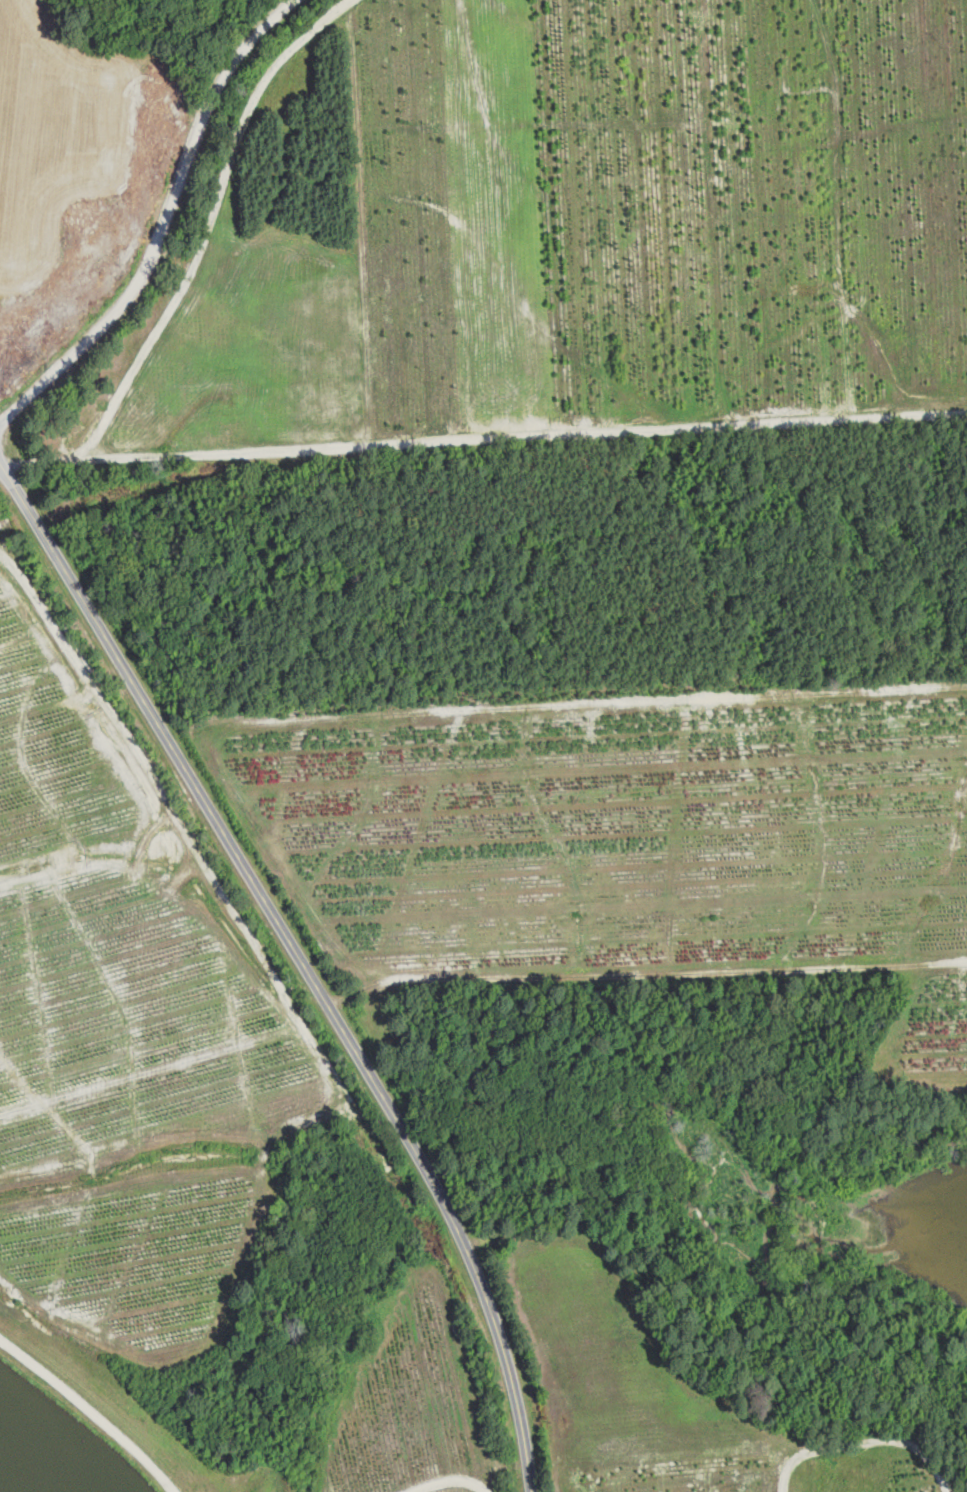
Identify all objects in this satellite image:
road: (167, 222)
road: (300, 963)

